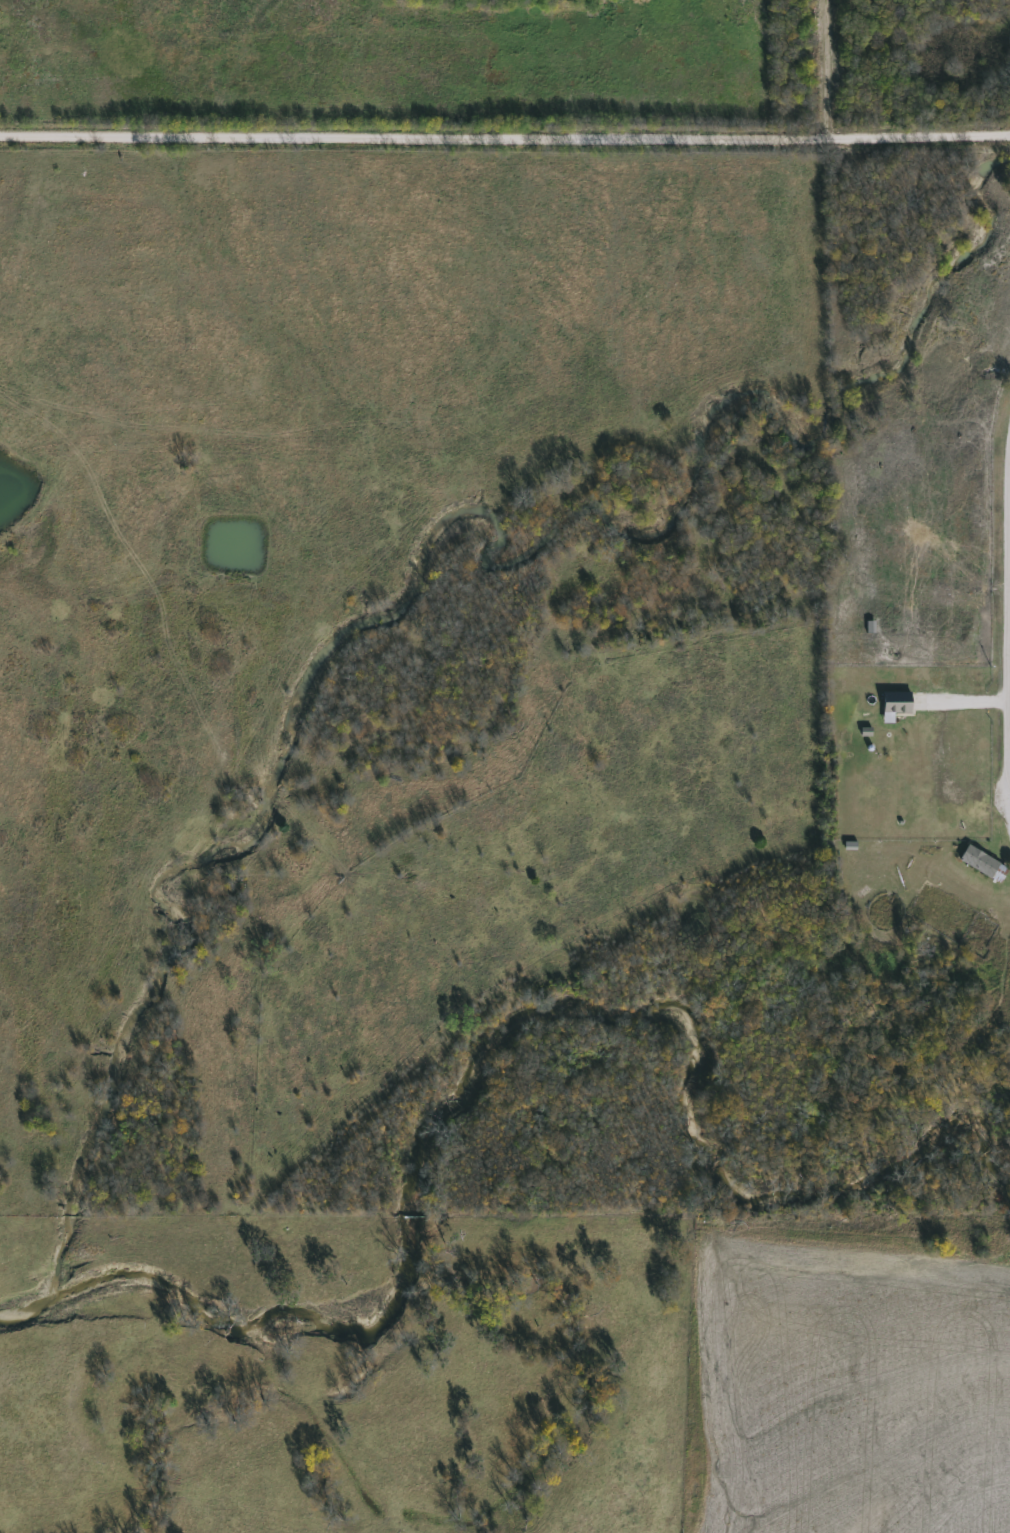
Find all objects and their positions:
road: (505, 145)
road: (1006, 611)
road: (961, 703)
building: (896, 704)
building: (984, 864)

